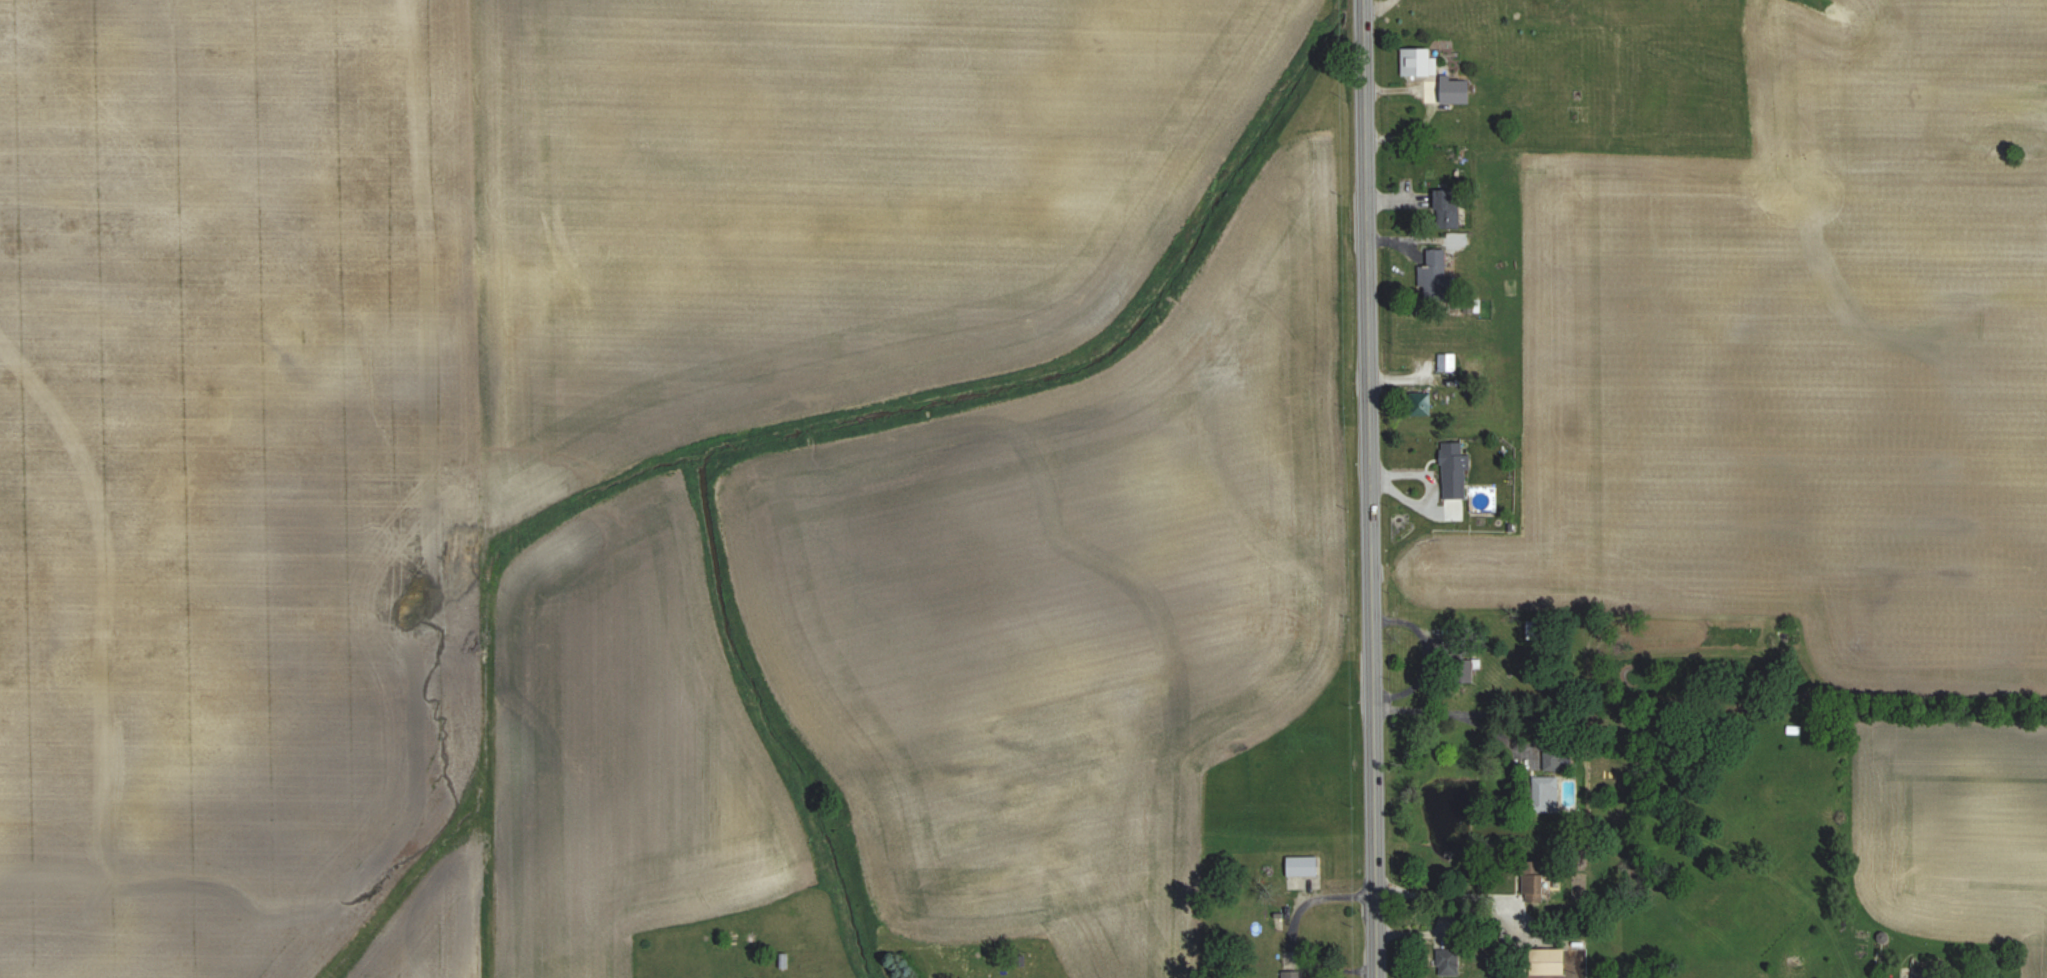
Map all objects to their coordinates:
building: (1421, 60)
building: (1450, 208)
building: (1448, 362)
building: (1457, 470)
road: (1368, 488)
road: (1457, 712)
building: (1306, 872)
building: (1536, 887)
road: (1450, 891)
road: (1424, 930)
building: (1542, 961)
building: (1451, 962)
building: (1300, 975)

